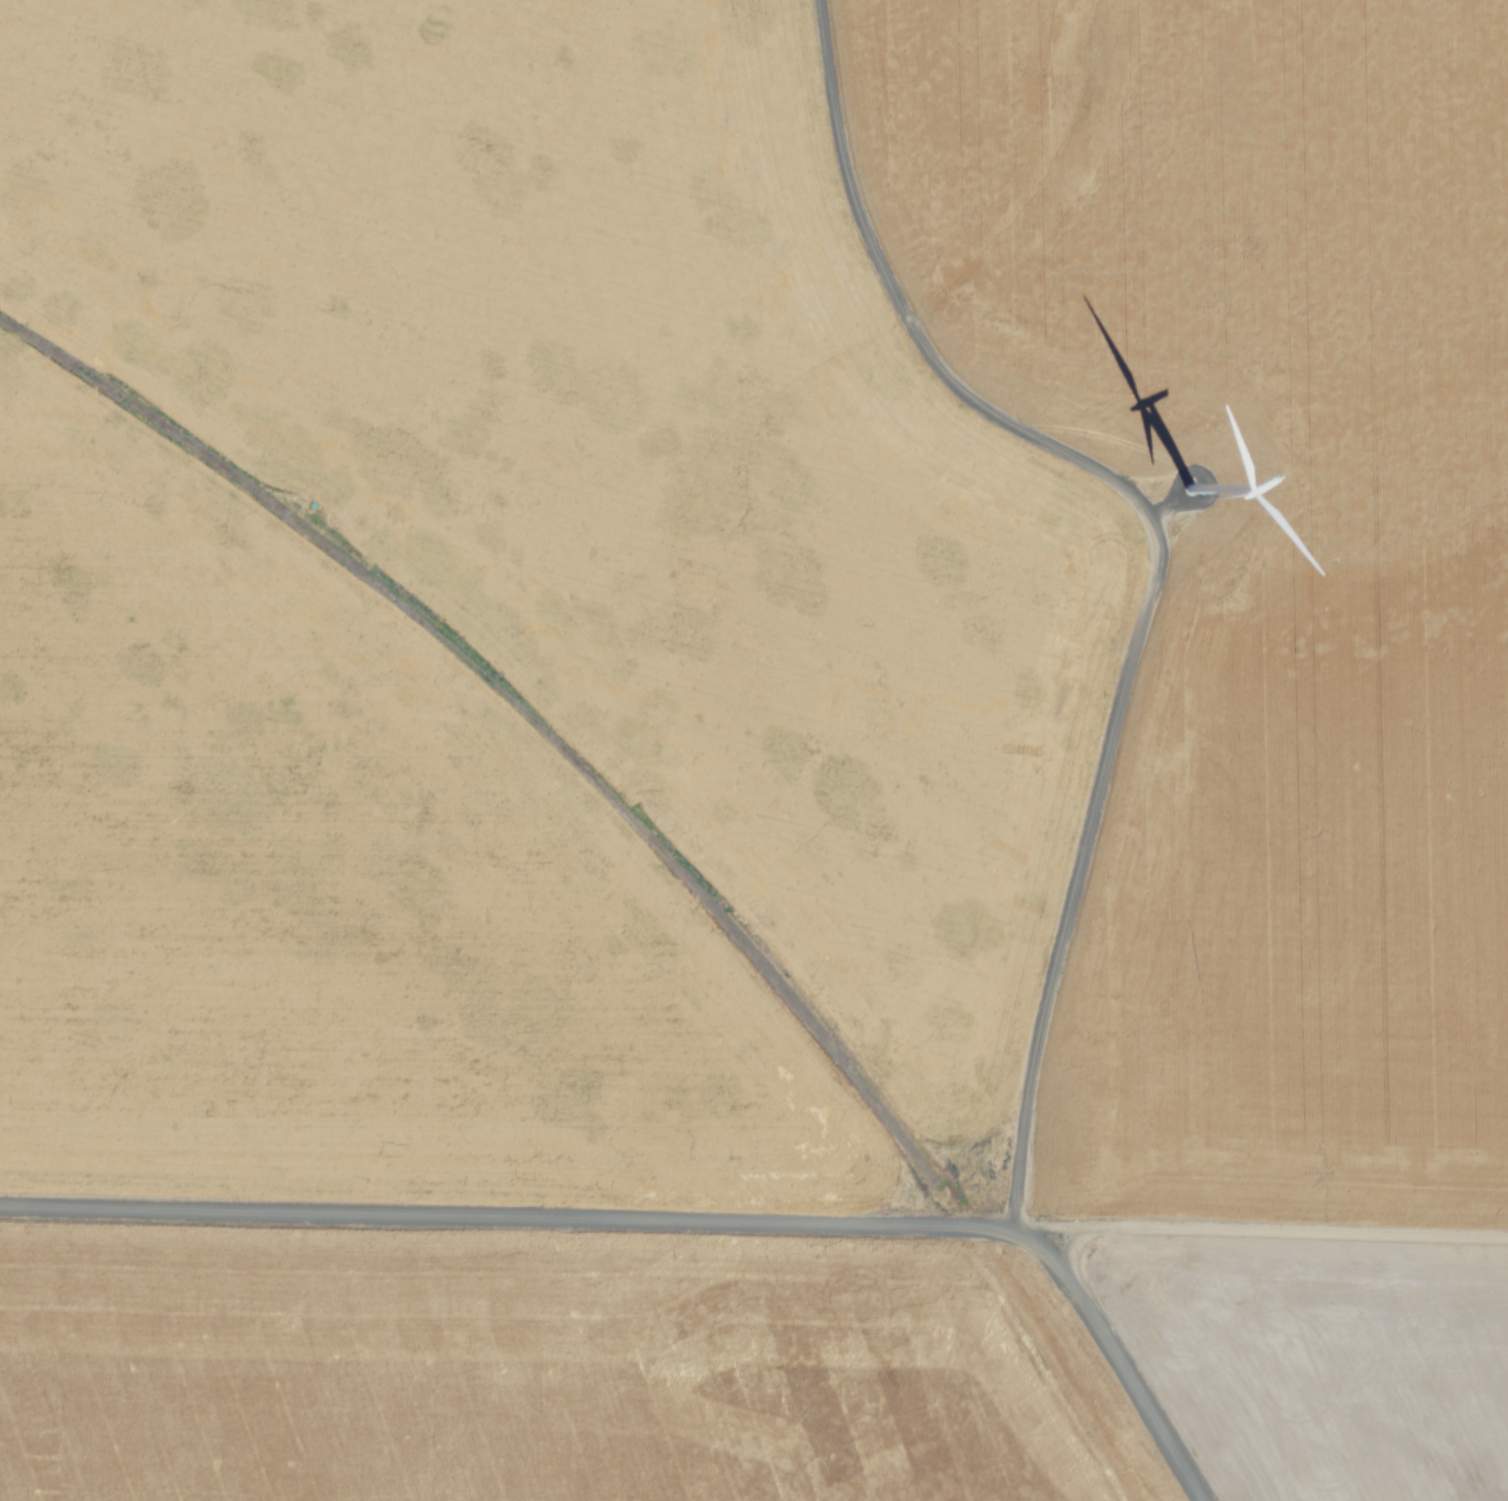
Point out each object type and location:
wind turbine: (1189, 489)
road: (518, 1217)
road: (1270, 1230)
road: (1118, 1370)

